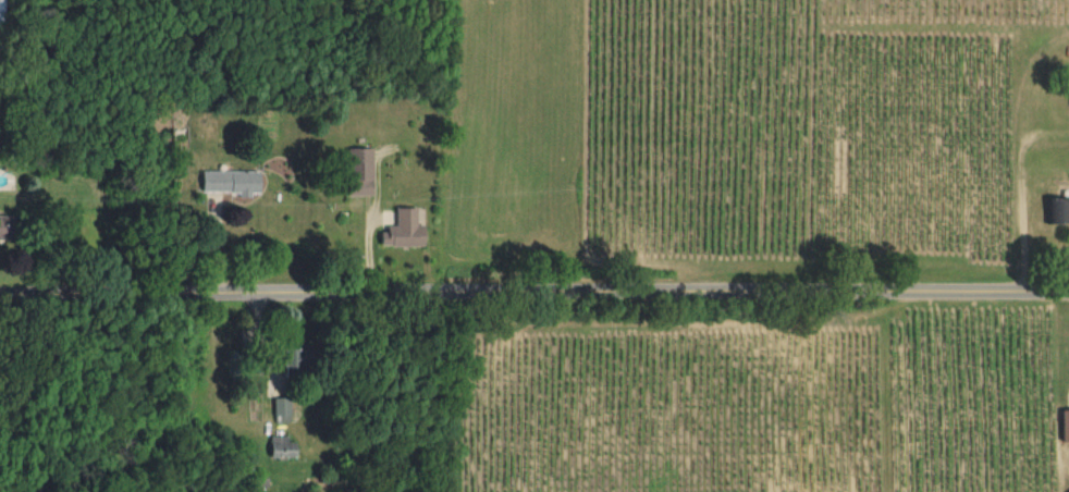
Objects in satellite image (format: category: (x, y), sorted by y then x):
building: (0, 0)
building: (360, 170)
building: (231, 180)
building: (1059, 209)
building: (4, 223)
building: (404, 227)
road: (533, 292)
building: (295, 355)
road: (59, 394)
building: (282, 407)
building: (1065, 422)
building: (281, 445)

